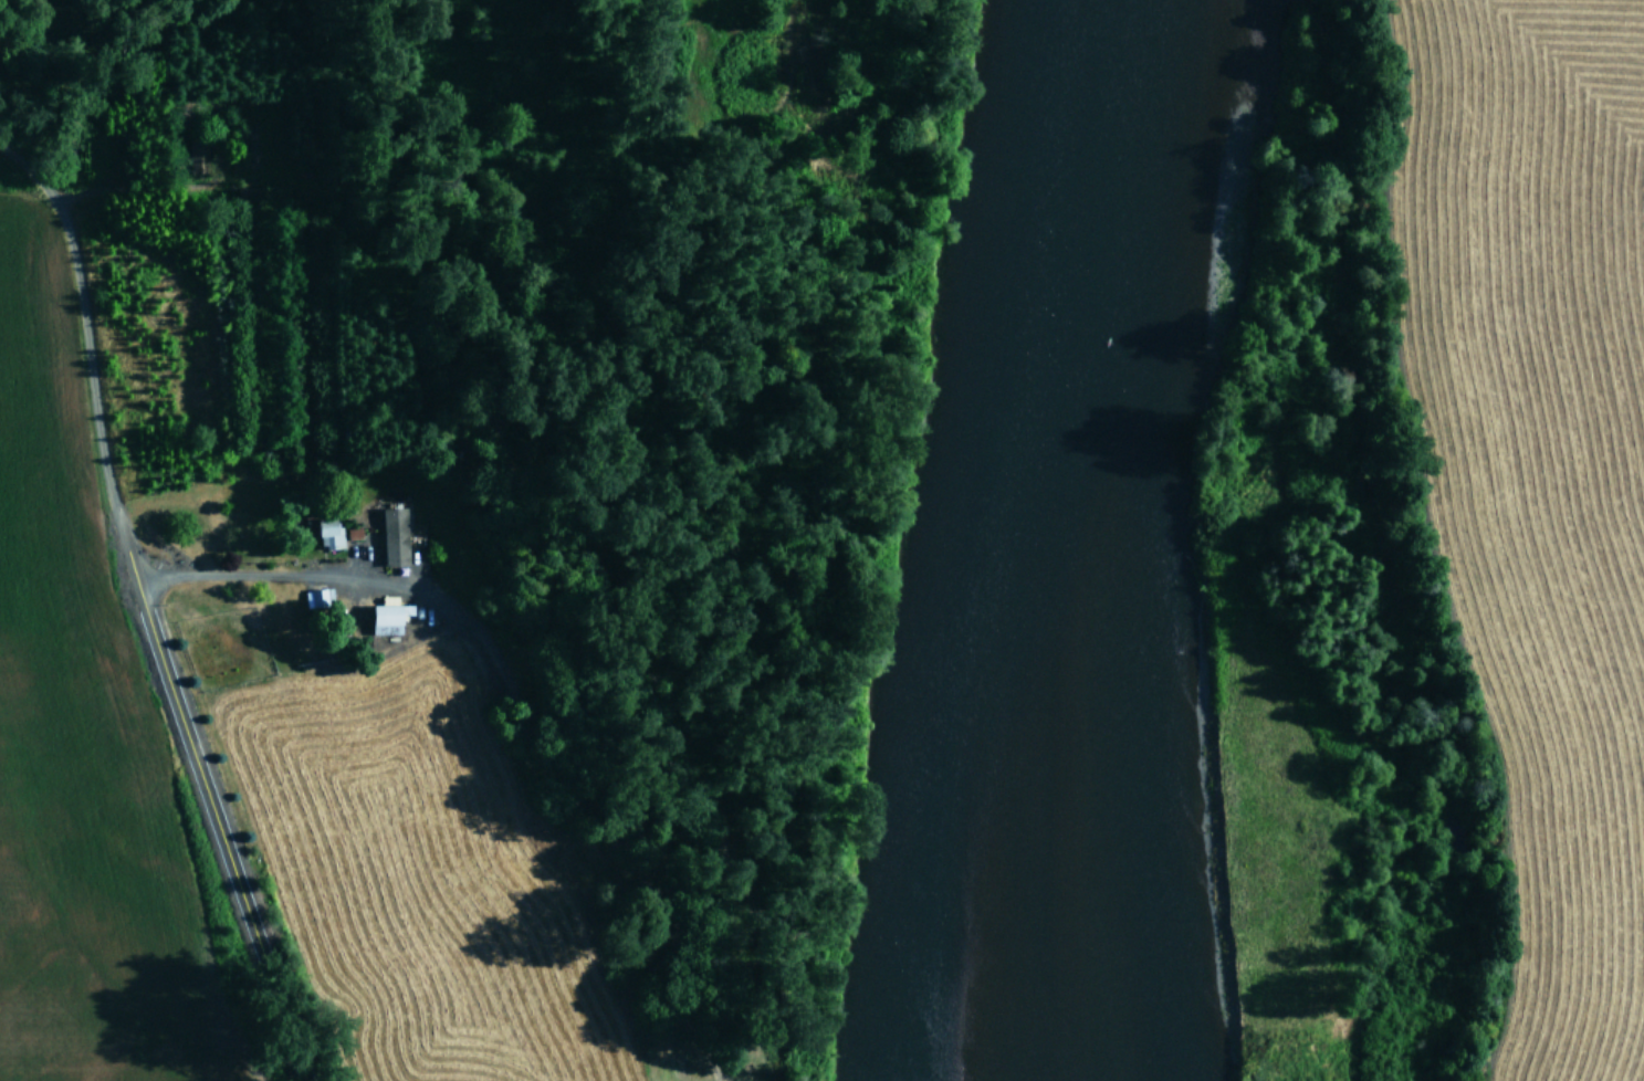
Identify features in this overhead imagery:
crop: (1531, 476)
building: (354, 533)
building: (328, 534)
building: (395, 537)
river: (1048, 538)
building: (317, 598)
road: (146, 608)
building: (387, 620)
crop: (247, 828)

